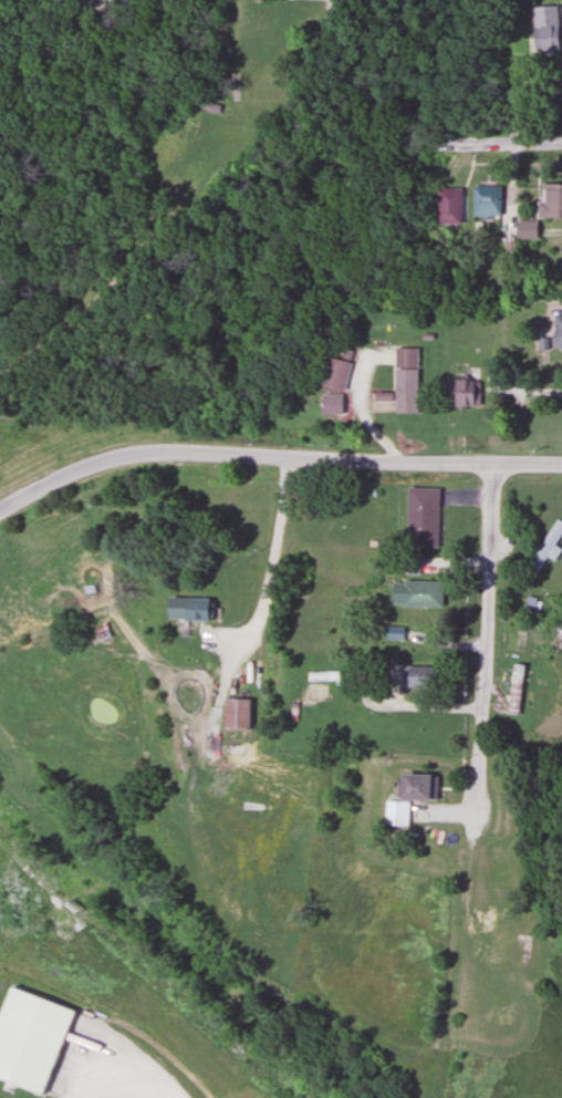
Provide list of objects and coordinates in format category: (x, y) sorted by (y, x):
building: (262, 11)
building: (543, 30)
road: (512, 142)
building: (483, 200)
building: (550, 200)
building: (447, 206)
building: (524, 229)
road: (537, 232)
building: (555, 331)
building: (403, 379)
building: (331, 386)
building: (461, 390)
road: (514, 395)
road: (274, 455)
building: (419, 517)
building: (543, 547)
building: (418, 593)
building: (530, 608)
building: (191, 609)
building: (392, 632)
road: (483, 644)
building: (413, 677)
building: (232, 713)
building: (405, 796)
building: (30, 1038)

